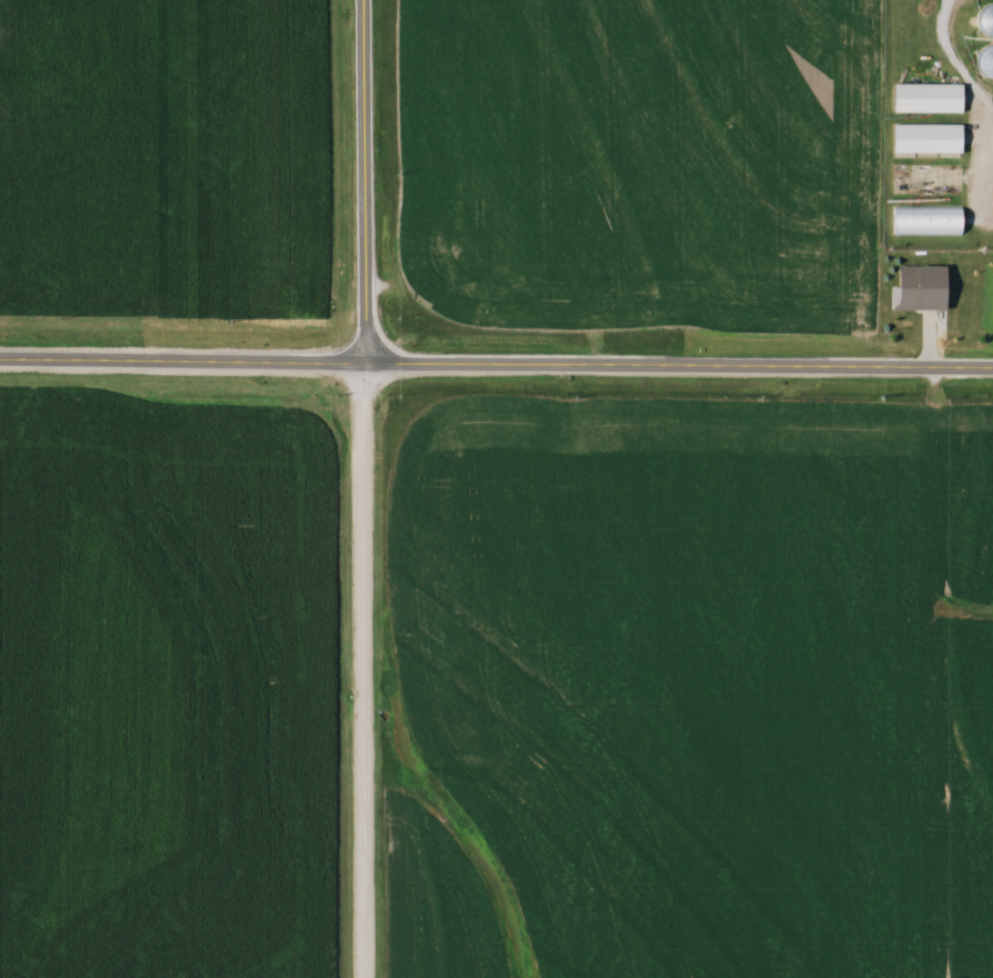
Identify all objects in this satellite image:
building: (983, 61)
building: (925, 98)
building: (925, 138)
road: (366, 180)
road: (985, 181)
building: (926, 221)
road: (183, 358)
road: (680, 365)
road: (365, 669)

